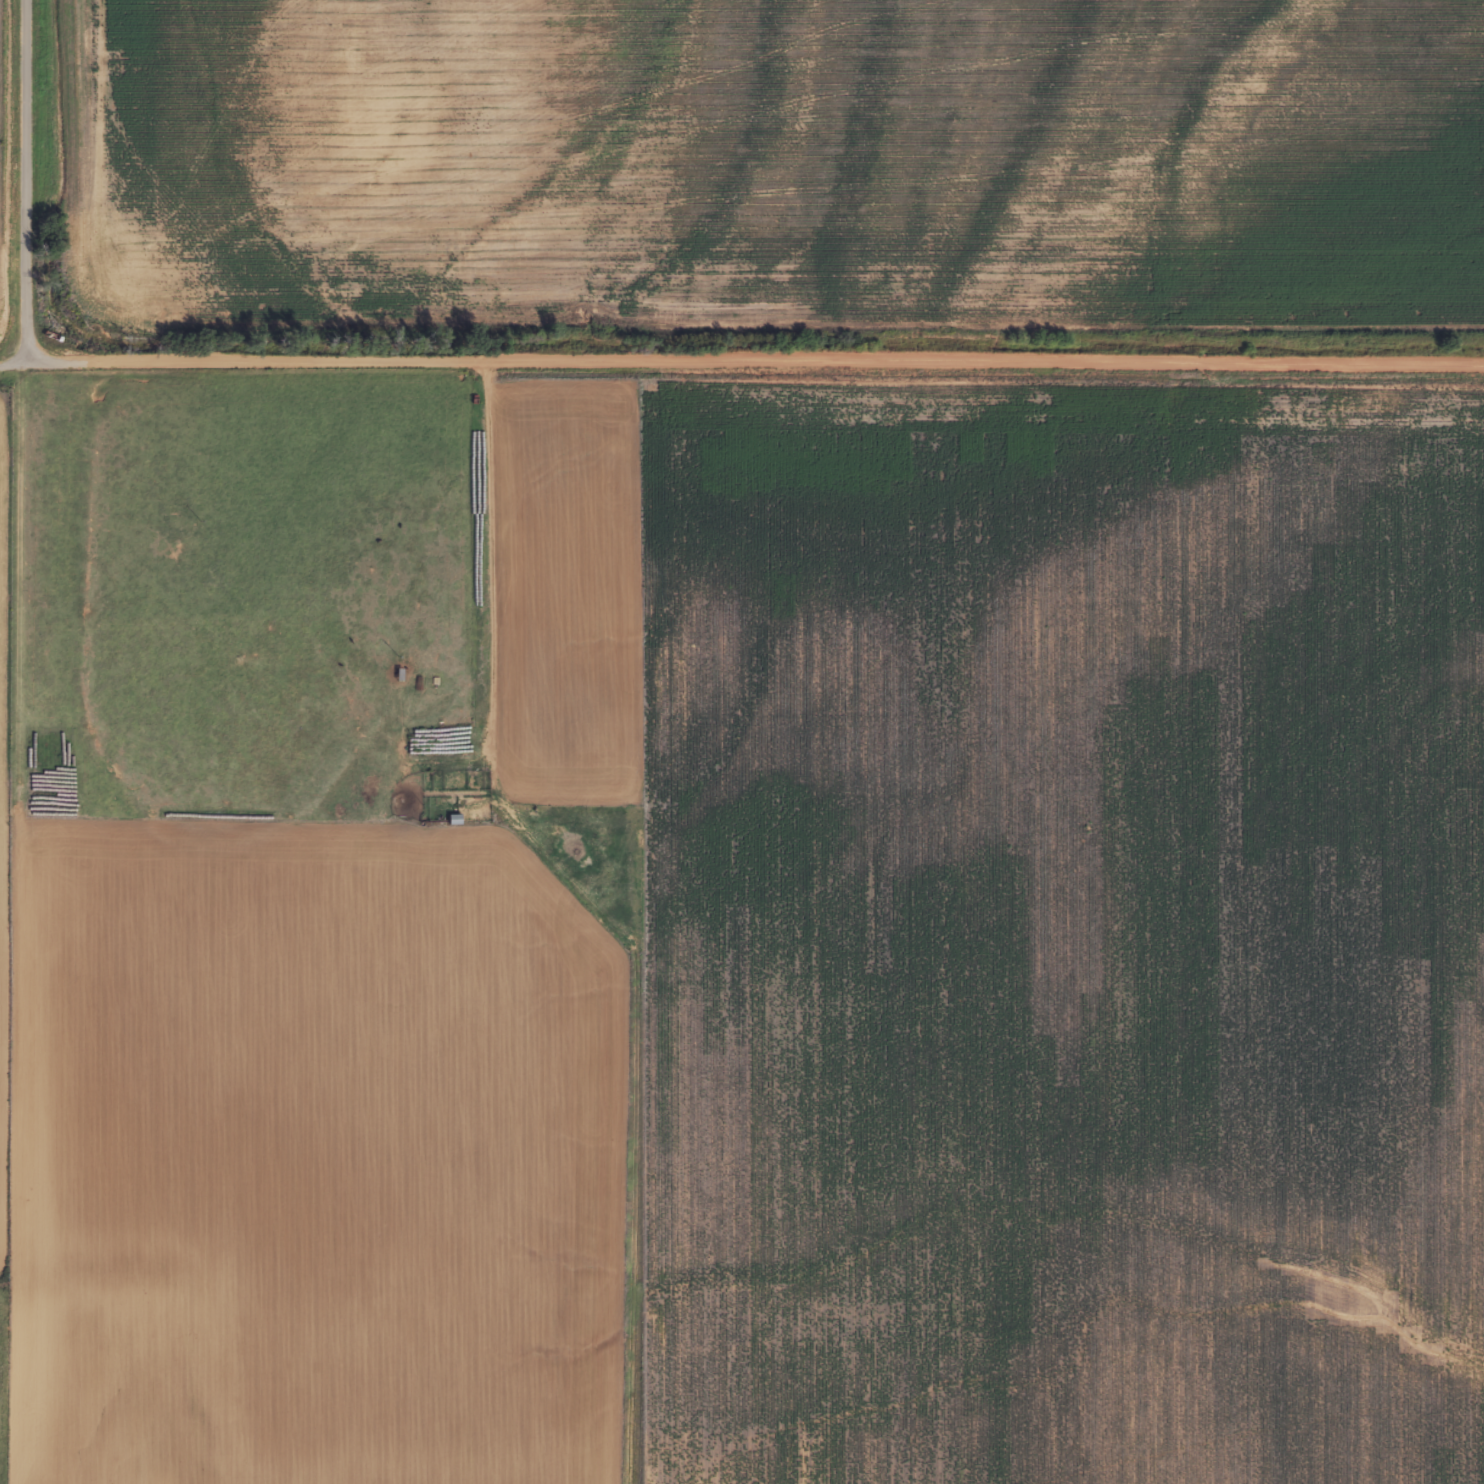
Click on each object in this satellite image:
road: (28, 181)
road: (756, 359)
road: (14, 363)
road: (504, 660)

